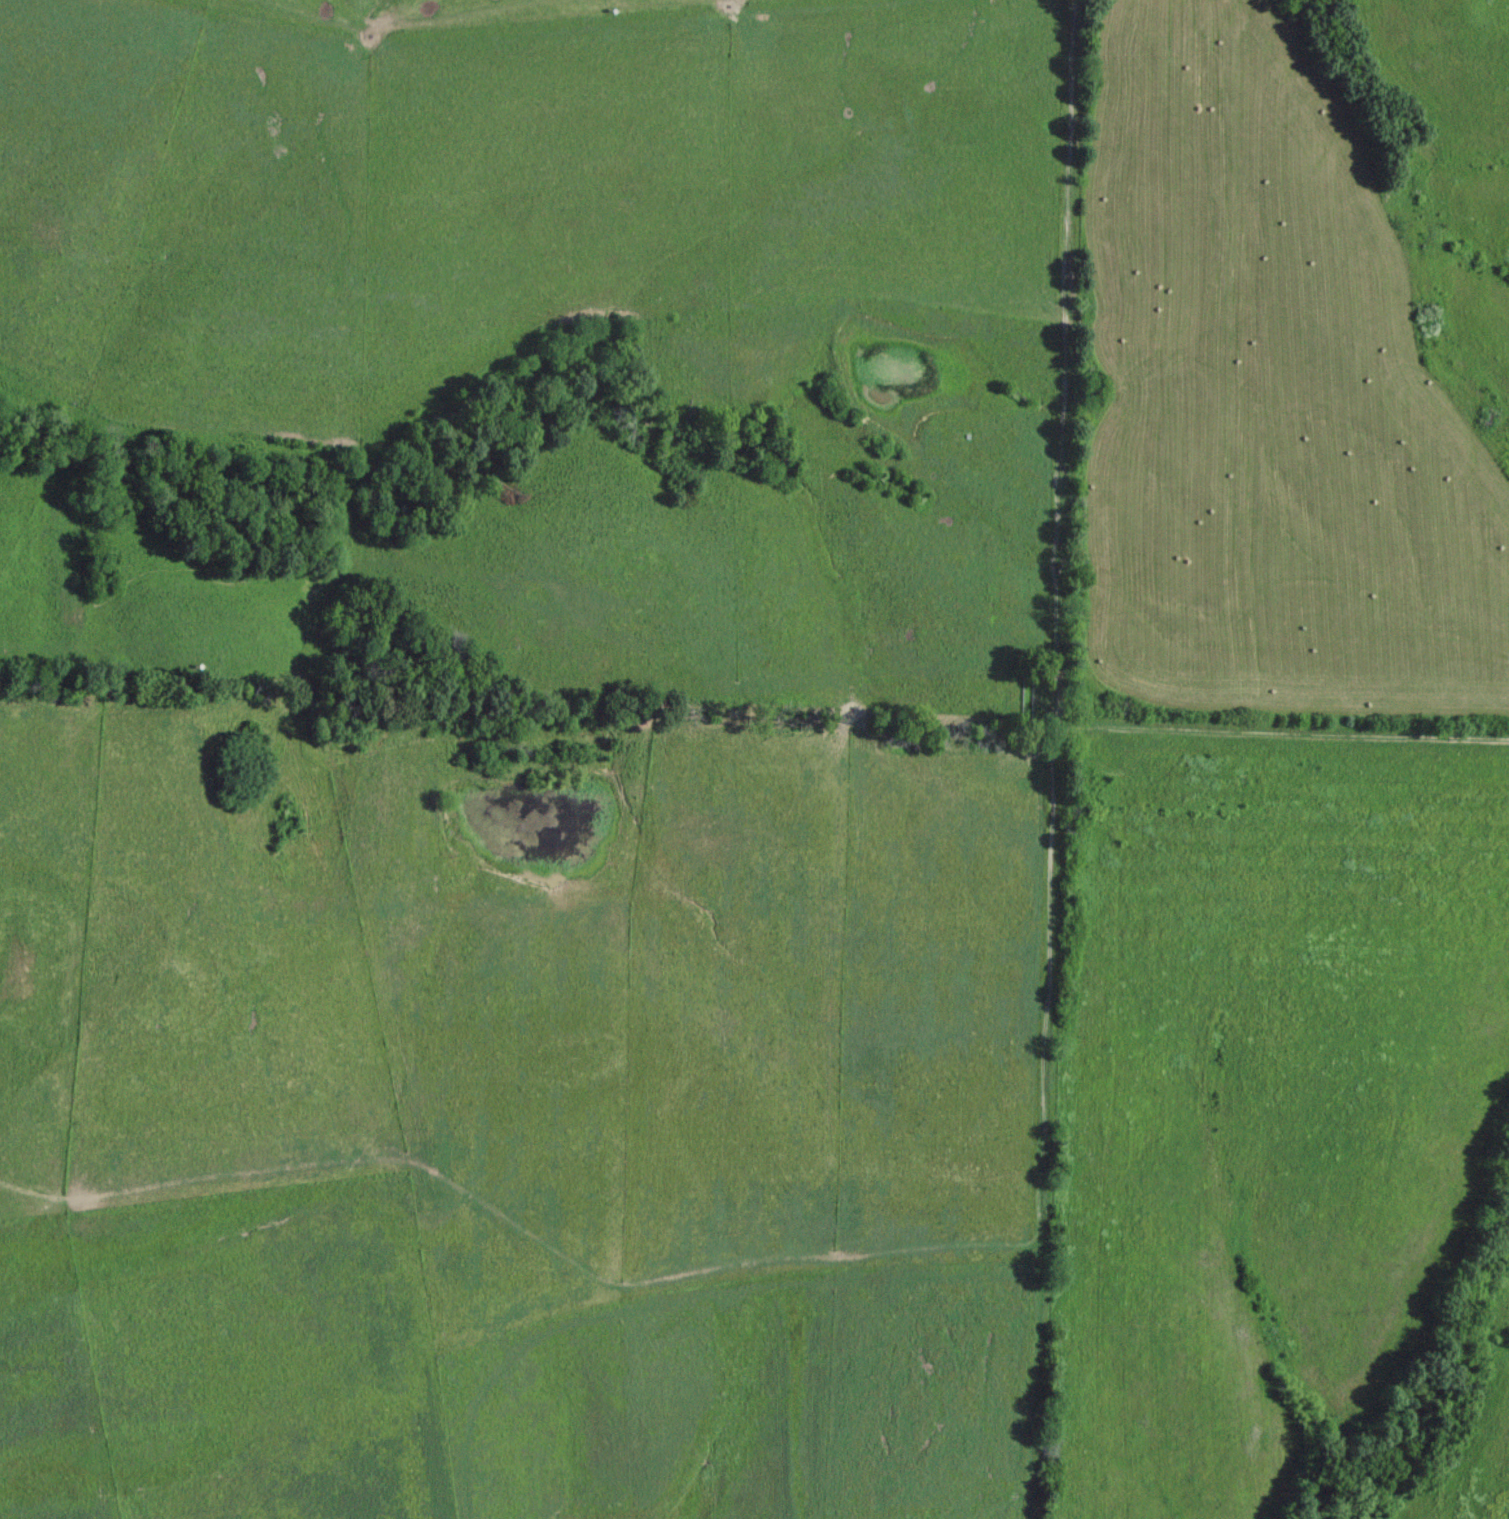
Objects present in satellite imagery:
road: (522, 572)
road: (1283, 729)
road: (1056, 759)

